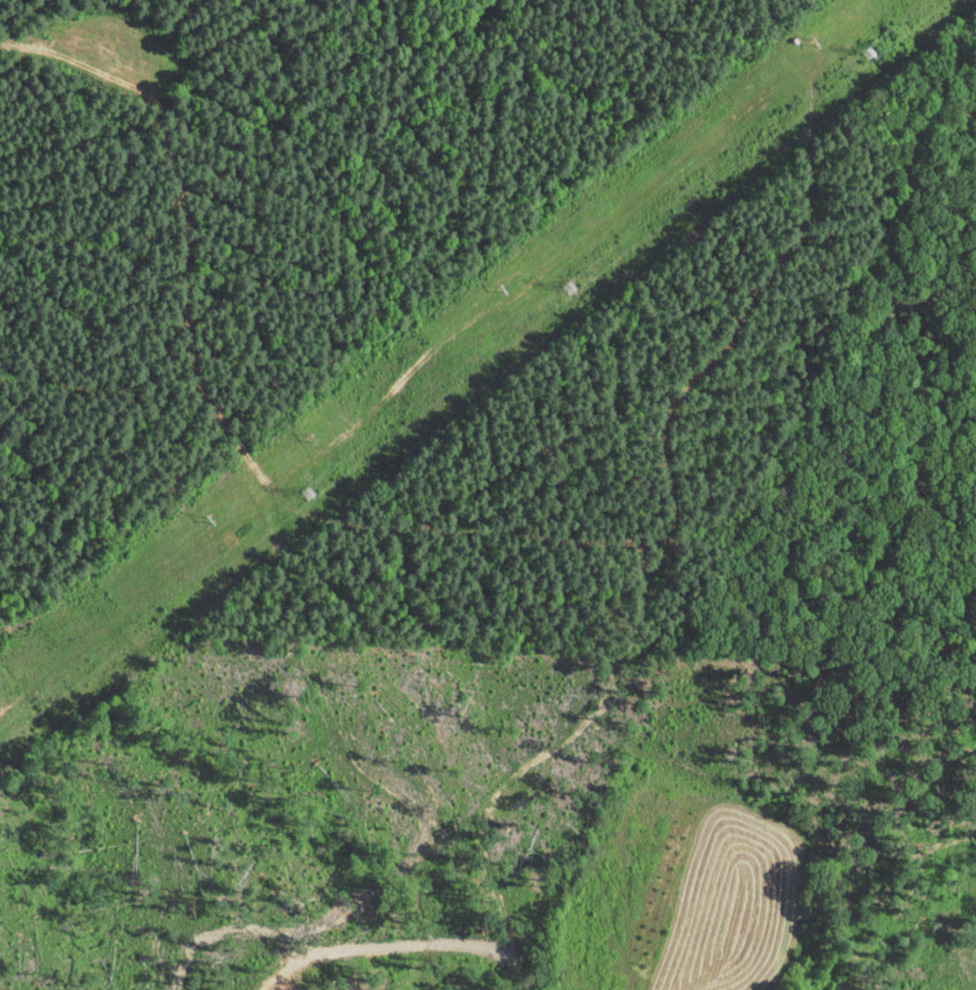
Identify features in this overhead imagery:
power tower: (871, 54)
power tower: (569, 289)
power tower: (310, 493)

